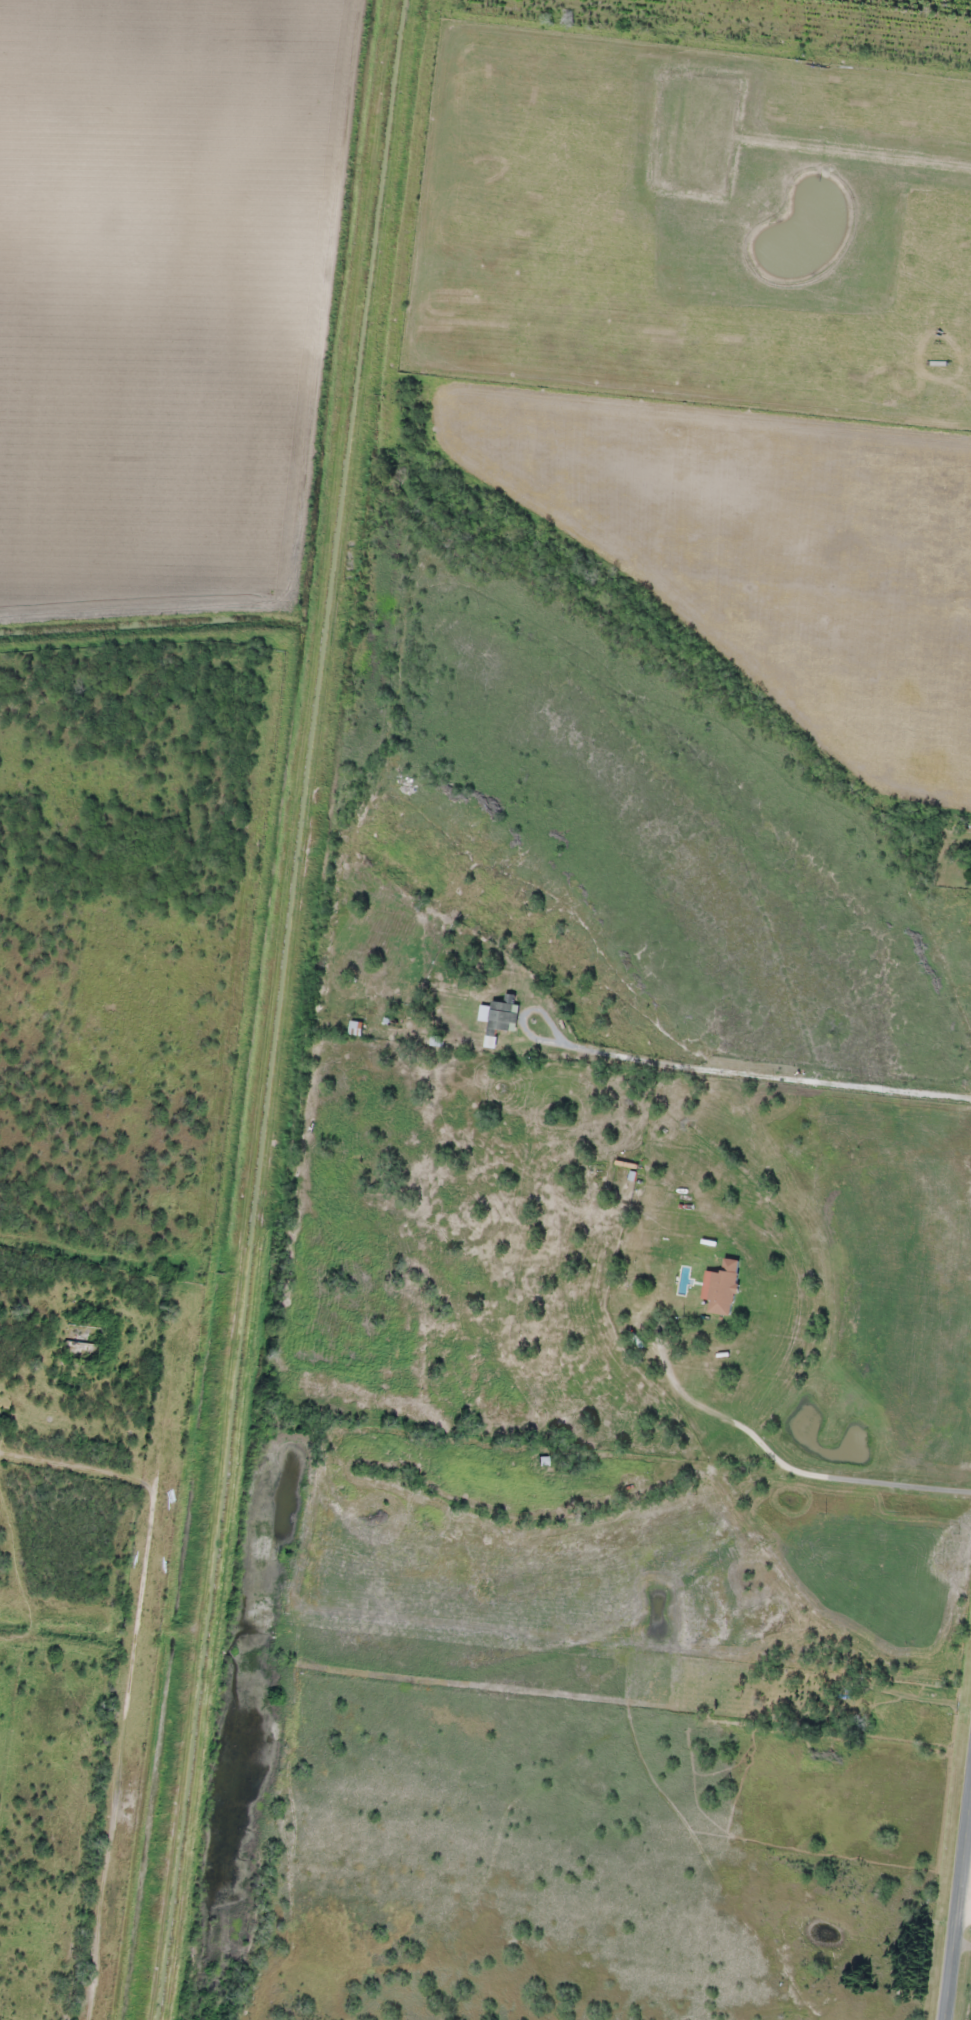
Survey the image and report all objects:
river: (621, 826)
building: (499, 1014)
building: (356, 1028)
building: (723, 1288)
building: (631, 1485)
road: (885, 1627)
road: (135, 1760)
road: (965, 1908)
road: (958, 1913)

